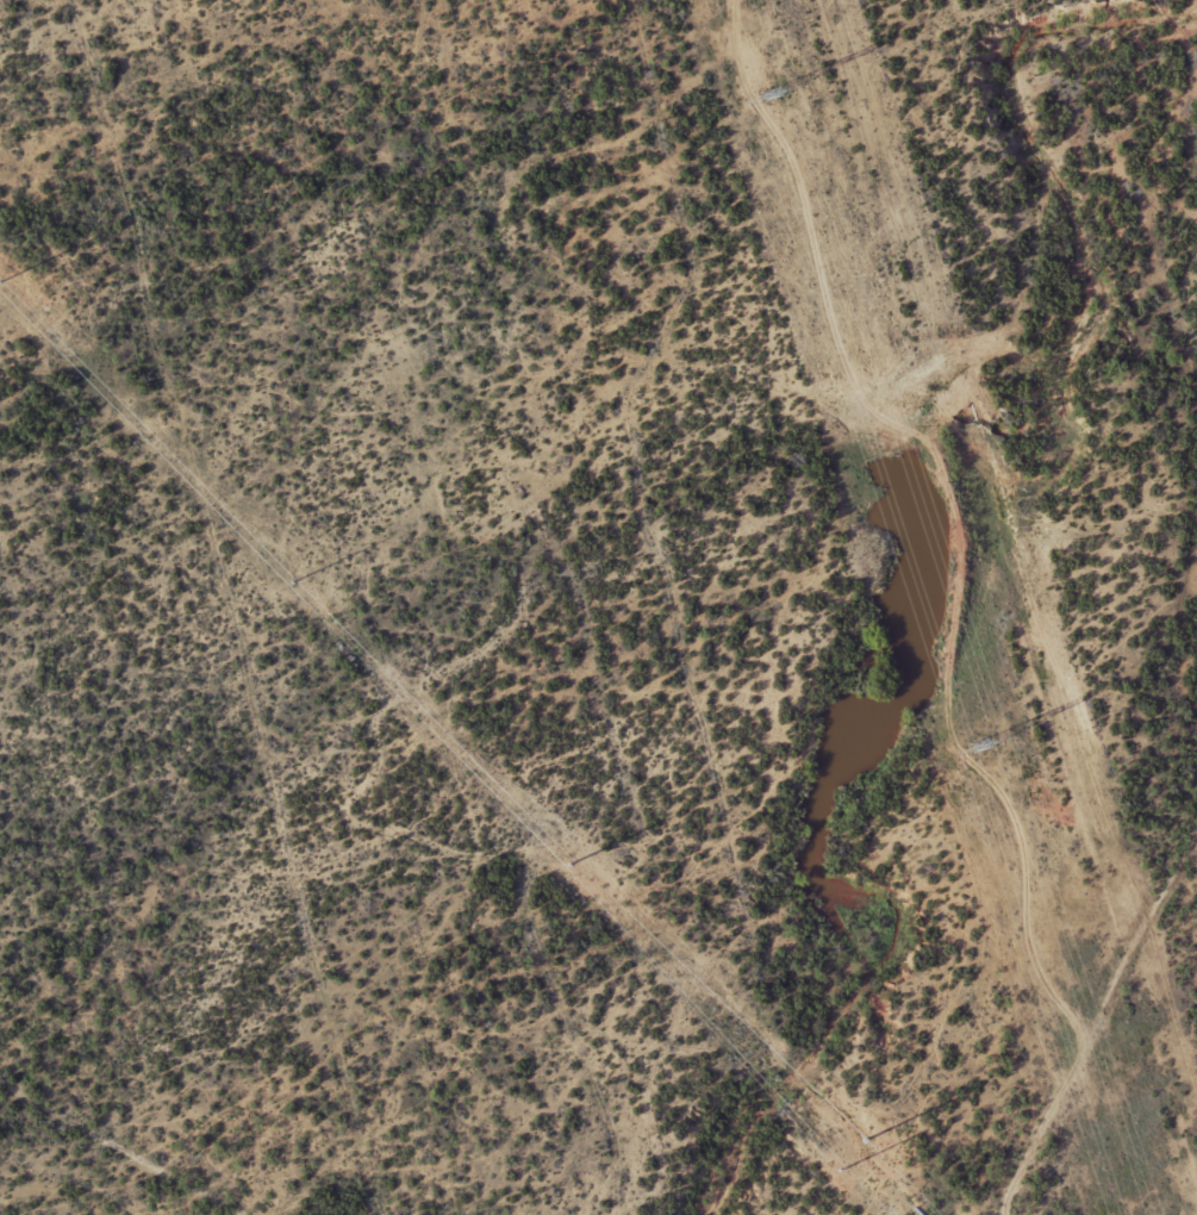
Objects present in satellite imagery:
power tower: (775, 95)
power tower: (6, 285)
power tower: (299, 584)
power tower: (977, 748)
power tower: (569, 864)
road: (1103, 1022)
power tower: (873, 1142)
power tower: (846, 1172)

